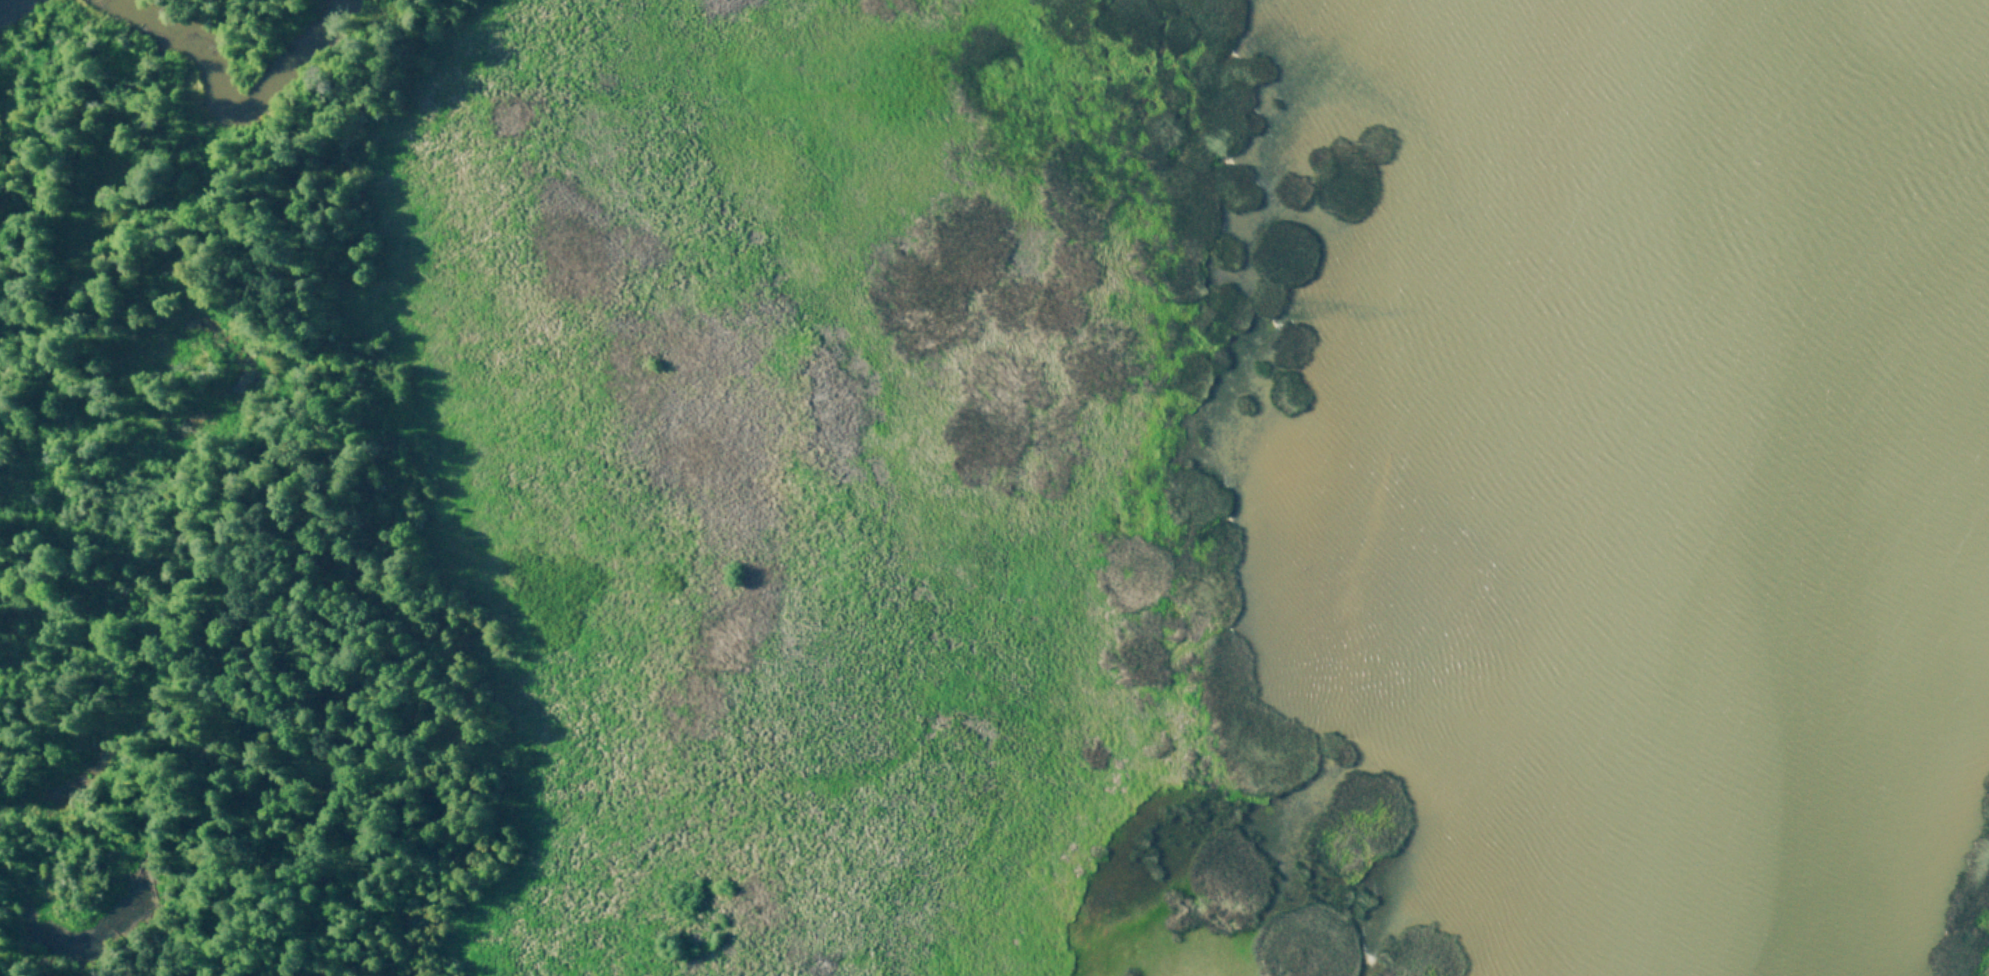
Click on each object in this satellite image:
river: (1786, 498)

